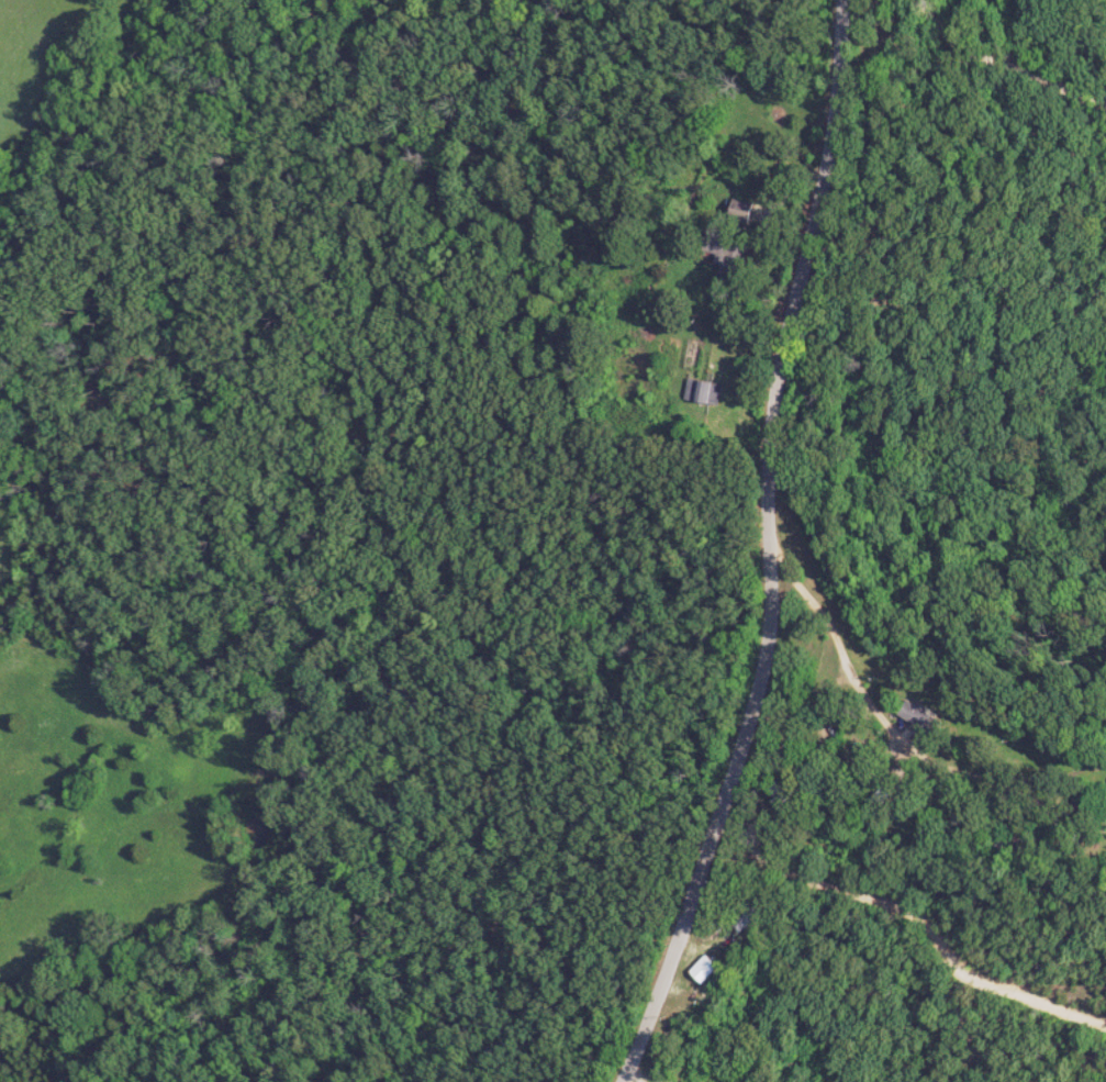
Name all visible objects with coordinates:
road: (1027, 59)
building: (751, 210)
building: (730, 253)
building: (710, 392)
road: (766, 553)
road: (904, 710)
road: (748, 795)
road: (926, 923)
building: (708, 968)

